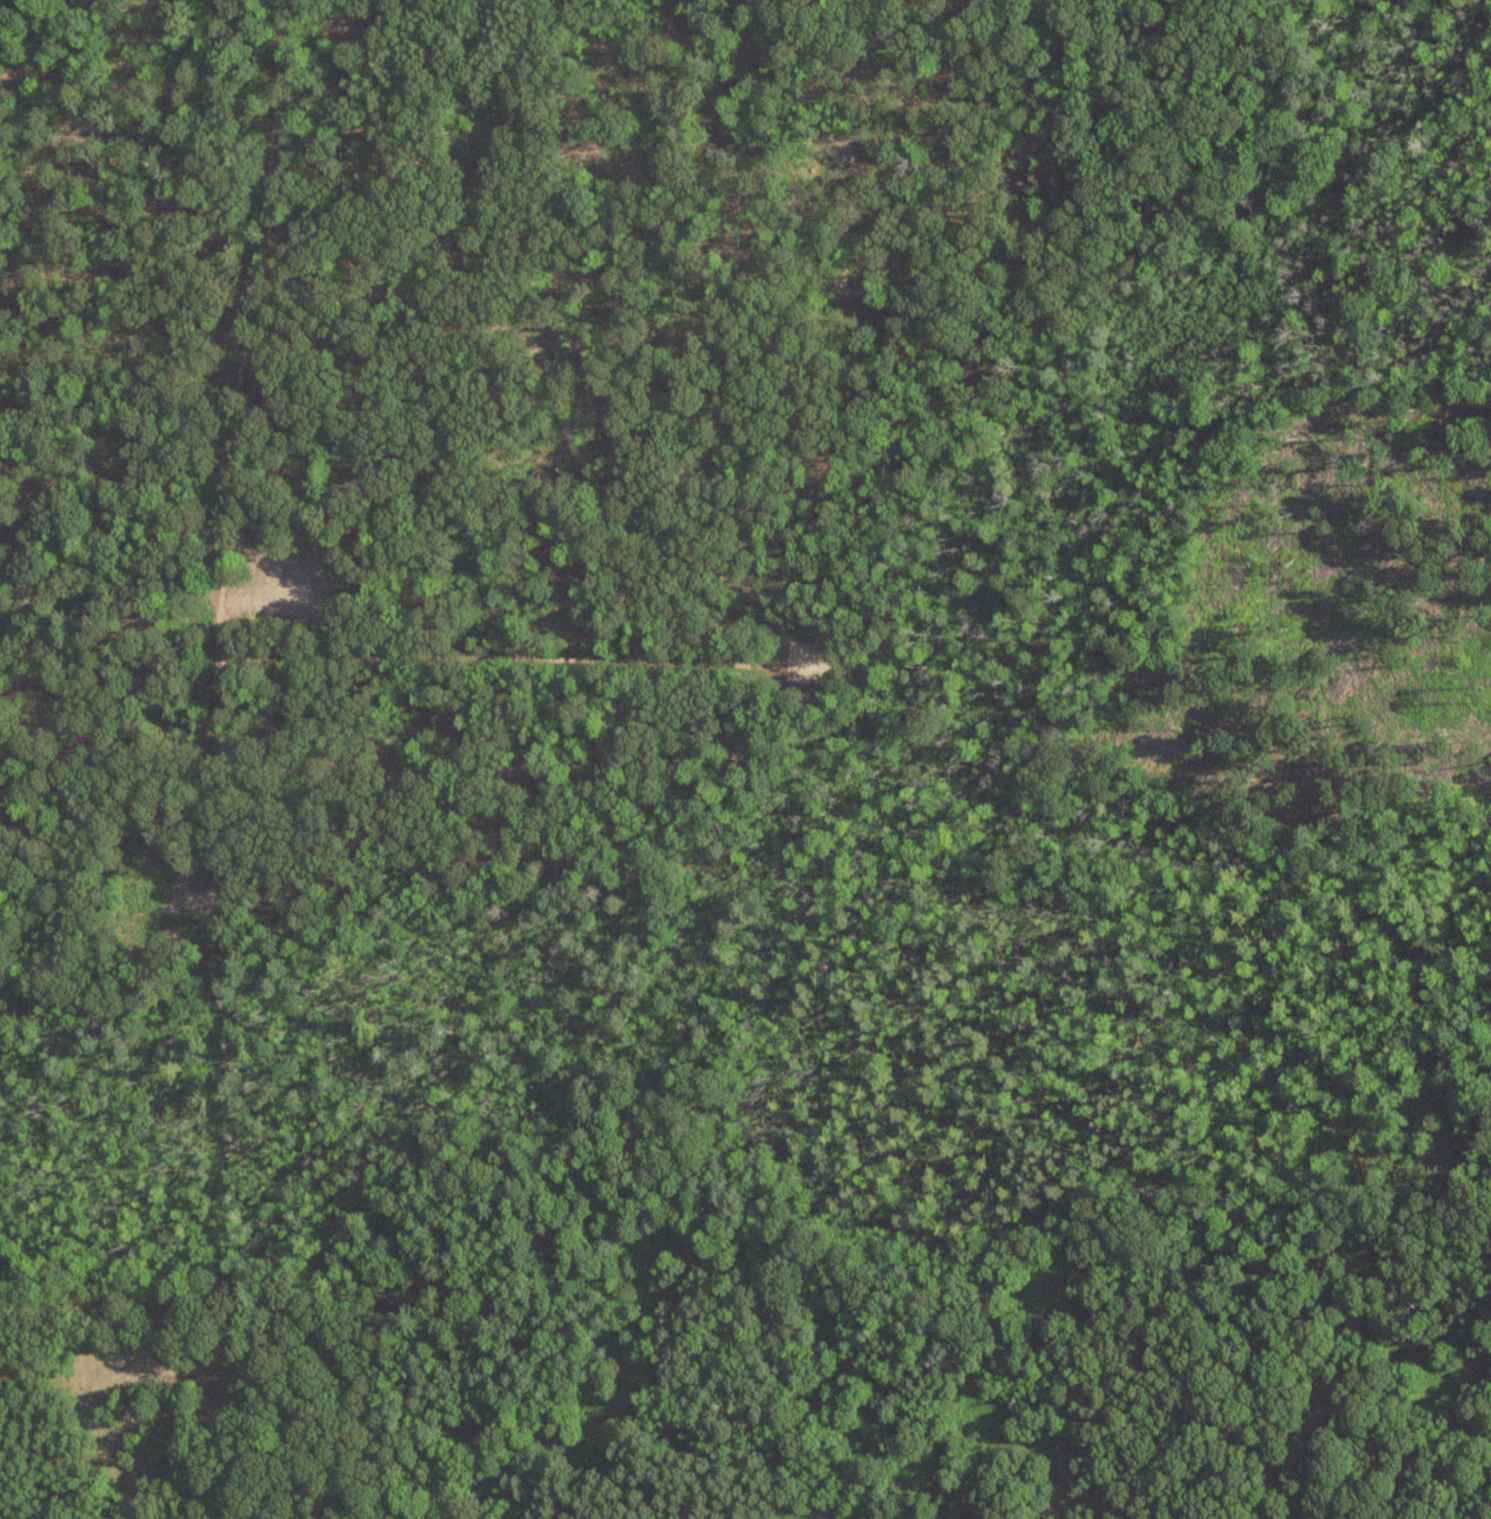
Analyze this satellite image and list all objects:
road: (474, 349)
road: (390, 373)
road: (555, 385)
road: (321, 606)

